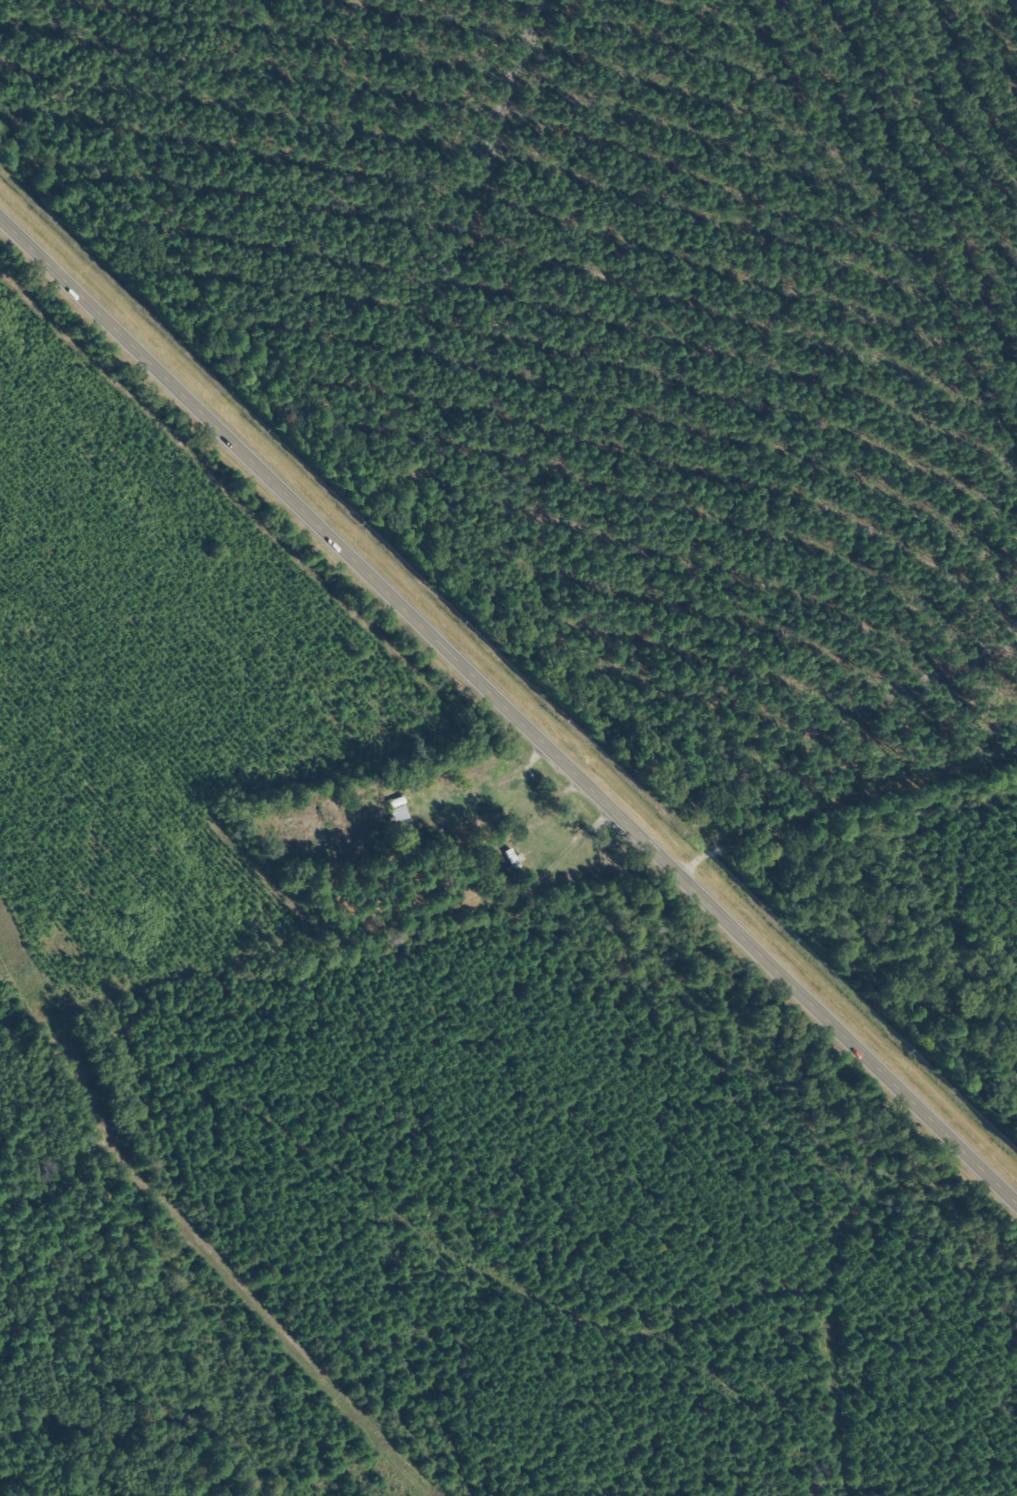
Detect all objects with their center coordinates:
road: (801, 242)
railway: (508, 675)
road: (508, 710)
building: (396, 815)
road: (840, 834)
building: (510, 857)

